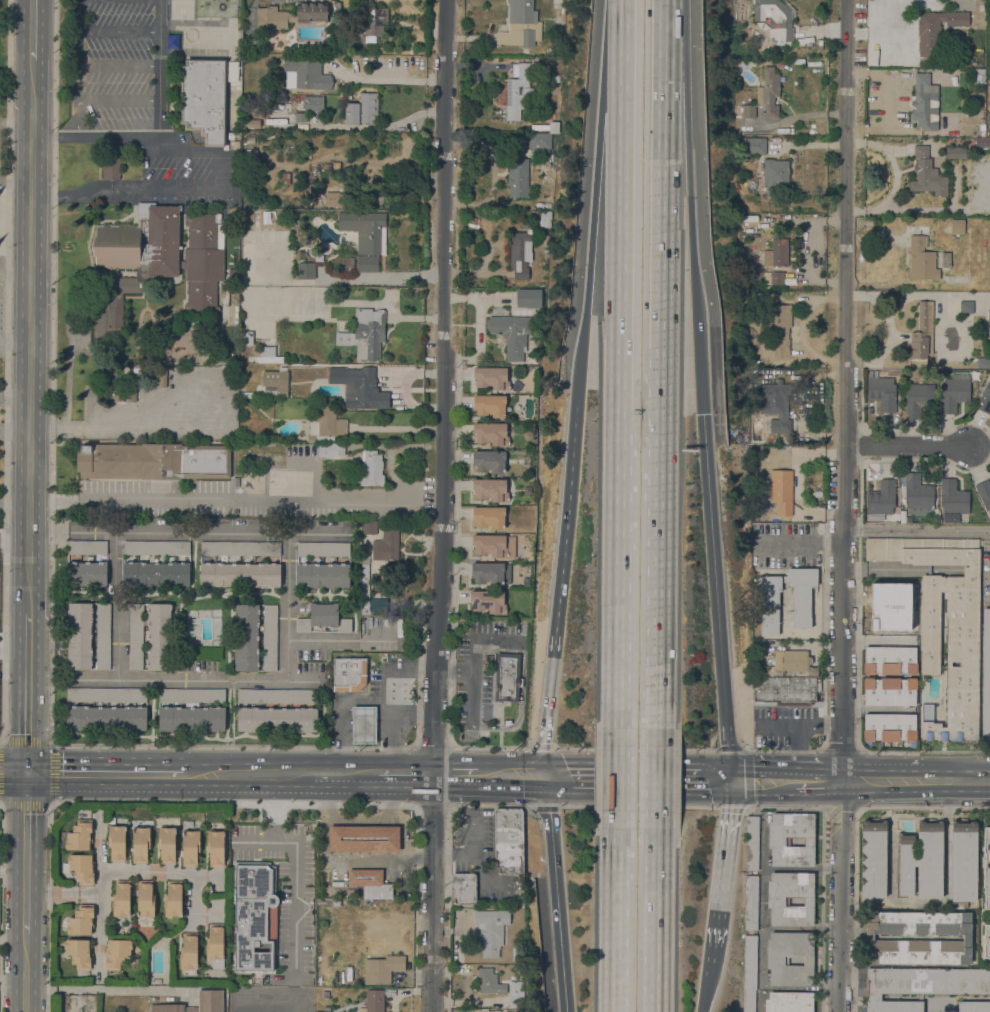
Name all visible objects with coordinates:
building: (337, 7)
building: (739, 10)
road: (79, 15)
building: (290, 16)
building: (775, 18)
building: (374, 25)
building: (520, 25)
road: (32, 29)
building: (935, 30)
road: (119, 31)
road: (662, 41)
building: (337, 43)
building: (250, 45)
road: (79, 47)
road: (119, 65)
building: (739, 67)
road: (159, 68)
building: (980, 71)
building: (306, 74)
building: (554, 79)
road: (386, 81)
building: (519, 89)
building: (205, 93)
building: (768, 93)
building: (293, 96)
building: (498, 99)
road: (100, 100)
building: (925, 103)
building: (310, 104)
building: (256, 106)
building: (362, 110)
building: (748, 111)
building: (298, 117)
building: (253, 123)
building: (548, 127)
building: (982, 127)
building: (791, 131)
building: (230, 136)
road: (95, 137)
building: (214, 139)
building: (517, 140)
road: (676, 140)
building: (539, 142)
building: (982, 142)
building: (754, 146)
road: (186, 151)
building: (955, 152)
road: (593, 157)
building: (111, 162)
building: (332, 165)
road: (218, 170)
building: (494, 174)
building: (927, 174)
building: (775, 175)
road: (894, 176)
building: (518, 177)
building: (285, 178)
road: (4, 189)
road: (167, 189)
road: (74, 195)
building: (334, 198)
road: (621, 209)
road: (661, 216)
building: (546, 218)
building: (957, 229)
building: (365, 230)
building: (545, 240)
road: (3, 251)
building: (520, 253)
building: (776, 253)
road: (693, 256)
building: (921, 257)
building: (945, 259)
building: (157, 261)
building: (367, 264)
building: (306, 270)
building: (777, 278)
building: (528, 298)
building: (966, 307)
building: (989, 319)
building: (780, 329)
building: (923, 332)
building: (369, 333)
building: (511, 334)
road: (29, 336)
building: (247, 338)
building: (269, 355)
road: (583, 360)
road: (697, 364)
road: (5, 371)
building: (160, 376)
building: (491, 378)
building: (276, 382)
road: (844, 384)
building: (359, 387)
building: (130, 391)
building: (955, 391)
road: (218, 392)
building: (882, 392)
building: (113, 394)
building: (247, 395)
road: (14, 397)
building: (918, 399)
building: (984, 399)
building: (490, 405)
building: (776, 406)
traffic signals: (699, 413)
building: (326, 424)
road: (116, 426)
road: (63, 428)
road: (14, 429)
building: (491, 434)
road: (909, 444)
building: (331, 449)
building: (153, 461)
building: (489, 461)
building: (372, 468)
building: (490, 489)
building: (527, 490)
building: (781, 491)
building: (984, 493)
building: (917, 494)
building: (953, 497)
building: (880, 500)
road: (235, 501)
road: (14, 502)
road: (442, 506)
building: (489, 517)
building: (904, 517)
building: (369, 527)
road: (48, 528)
building: (405, 529)
road: (917, 530)
road: (316, 531)
road: (658, 538)
building: (386, 545)
building: (494, 545)
building: (87, 547)
building: (156, 548)
building: (240, 548)
building: (323, 549)
building: (87, 573)
building: (491, 573)
road: (619, 573)
building: (156, 574)
building: (239, 574)
building: (323, 575)
building: (365, 581)
road: (563, 584)
road: (712, 588)
building: (488, 601)
road: (287, 602)
road: (117, 604)
building: (769, 604)
building: (323, 618)
building: (80, 636)
building: (103, 636)
building: (159, 636)
building: (136, 637)
building: (269, 637)
building: (246, 638)
road: (320, 639)
road: (482, 640)
road: (13, 642)
building: (962, 644)
road: (521, 660)
building: (889, 660)
building: (785, 665)
road: (453, 670)
building: (349, 674)
building: (986, 675)
building: (507, 677)
road: (520, 683)
building: (785, 691)
building: (889, 691)
road: (27, 693)
building: (106, 695)
building: (192, 695)
building: (277, 696)
road: (470, 696)
road: (371, 700)
road: (872, 709)
building: (927, 712)
building: (106, 717)
building: (191, 718)
building: (277, 719)
building: (364, 724)
gas station: (364, 724)
parking lot: (784, 724)
road: (790, 725)
road: (826, 725)
road: (835, 725)
road: (511, 727)
building: (889, 728)
road: (798, 737)
road: (51, 742)
traffic signals: (543, 742)
road: (537, 748)
road: (635, 749)
parking lot: (798, 749)
road: (798, 751)
road: (798, 760)
road: (311, 762)
road: (456, 762)
road: (511, 762)
traffic signals: (563, 763)
road: (591, 763)
road: (681, 764)
traffic signals: (752, 765)
road: (760, 765)
road: (820, 768)
road: (881, 770)
road: (955, 771)
road: (13, 773)
traffic signals: (27, 773)
road: (109, 774)
road: (278, 774)
road: (544, 776)
road: (617, 778)
road: (656, 778)
road: (723, 778)
road: (746, 780)
road: (841, 780)
road: (252, 785)
road: (346, 787)
road: (405, 788)
road: (488, 789)
traffic signals: (521, 791)
road: (817, 791)
road: (915, 791)
road: (593, 792)
road: (681, 793)
traffic signals: (708, 793)
road: (758, 793)
road: (0, 801)
road: (235, 804)
road: (434, 806)
road: (489, 806)
road: (638, 807)
road: (543, 808)
road: (841, 815)
traffic signals: (722, 817)
building: (78, 836)
building: (363, 838)
road: (361, 839)
building: (508, 840)
building: (776, 841)
building: (116, 842)
building: (751, 842)
building: (140, 844)
building: (166, 845)
building: (190, 848)
building: (215, 848)
road: (27, 853)
building: (873, 859)
building: (963, 860)
road: (404, 861)
building: (920, 861)
building: (986, 867)
building: (80, 868)
road: (99, 868)
road: (715, 869)
road: (167, 871)
road: (297, 872)
building: (370, 882)
building: (337, 883)
building: (464, 887)
road: (53, 892)
building: (145, 898)
building: (121, 899)
building: (173, 899)
road: (557, 901)
building: (775, 901)
building: (750, 902)
building: (254, 914)
building: (81, 920)
road: (616, 920)
road: (655, 920)
road: (841, 925)
building: (967, 937)
road: (98, 938)
building: (491, 938)
road: (763, 939)
building: (986, 941)
building: (215, 945)
building: (79, 953)
building: (116, 953)
building: (189, 953)
road: (706, 956)
building: (775, 960)
building: (749, 962)
building: (382, 969)
road: (26, 972)
road: (703, 977)
building: (489, 982)
building: (920, 985)
road: (40, 988)
road: (78, 988)
road: (140, 989)
building: (514, 995)
building: (210, 996)
road: (700, 1000)
building: (748, 1000)
parking lot: (748, 1000)
building: (374, 1001)
building: (789, 1002)
building: (973, 1006)
building: (322, 1011)
building: (495, 1011)

